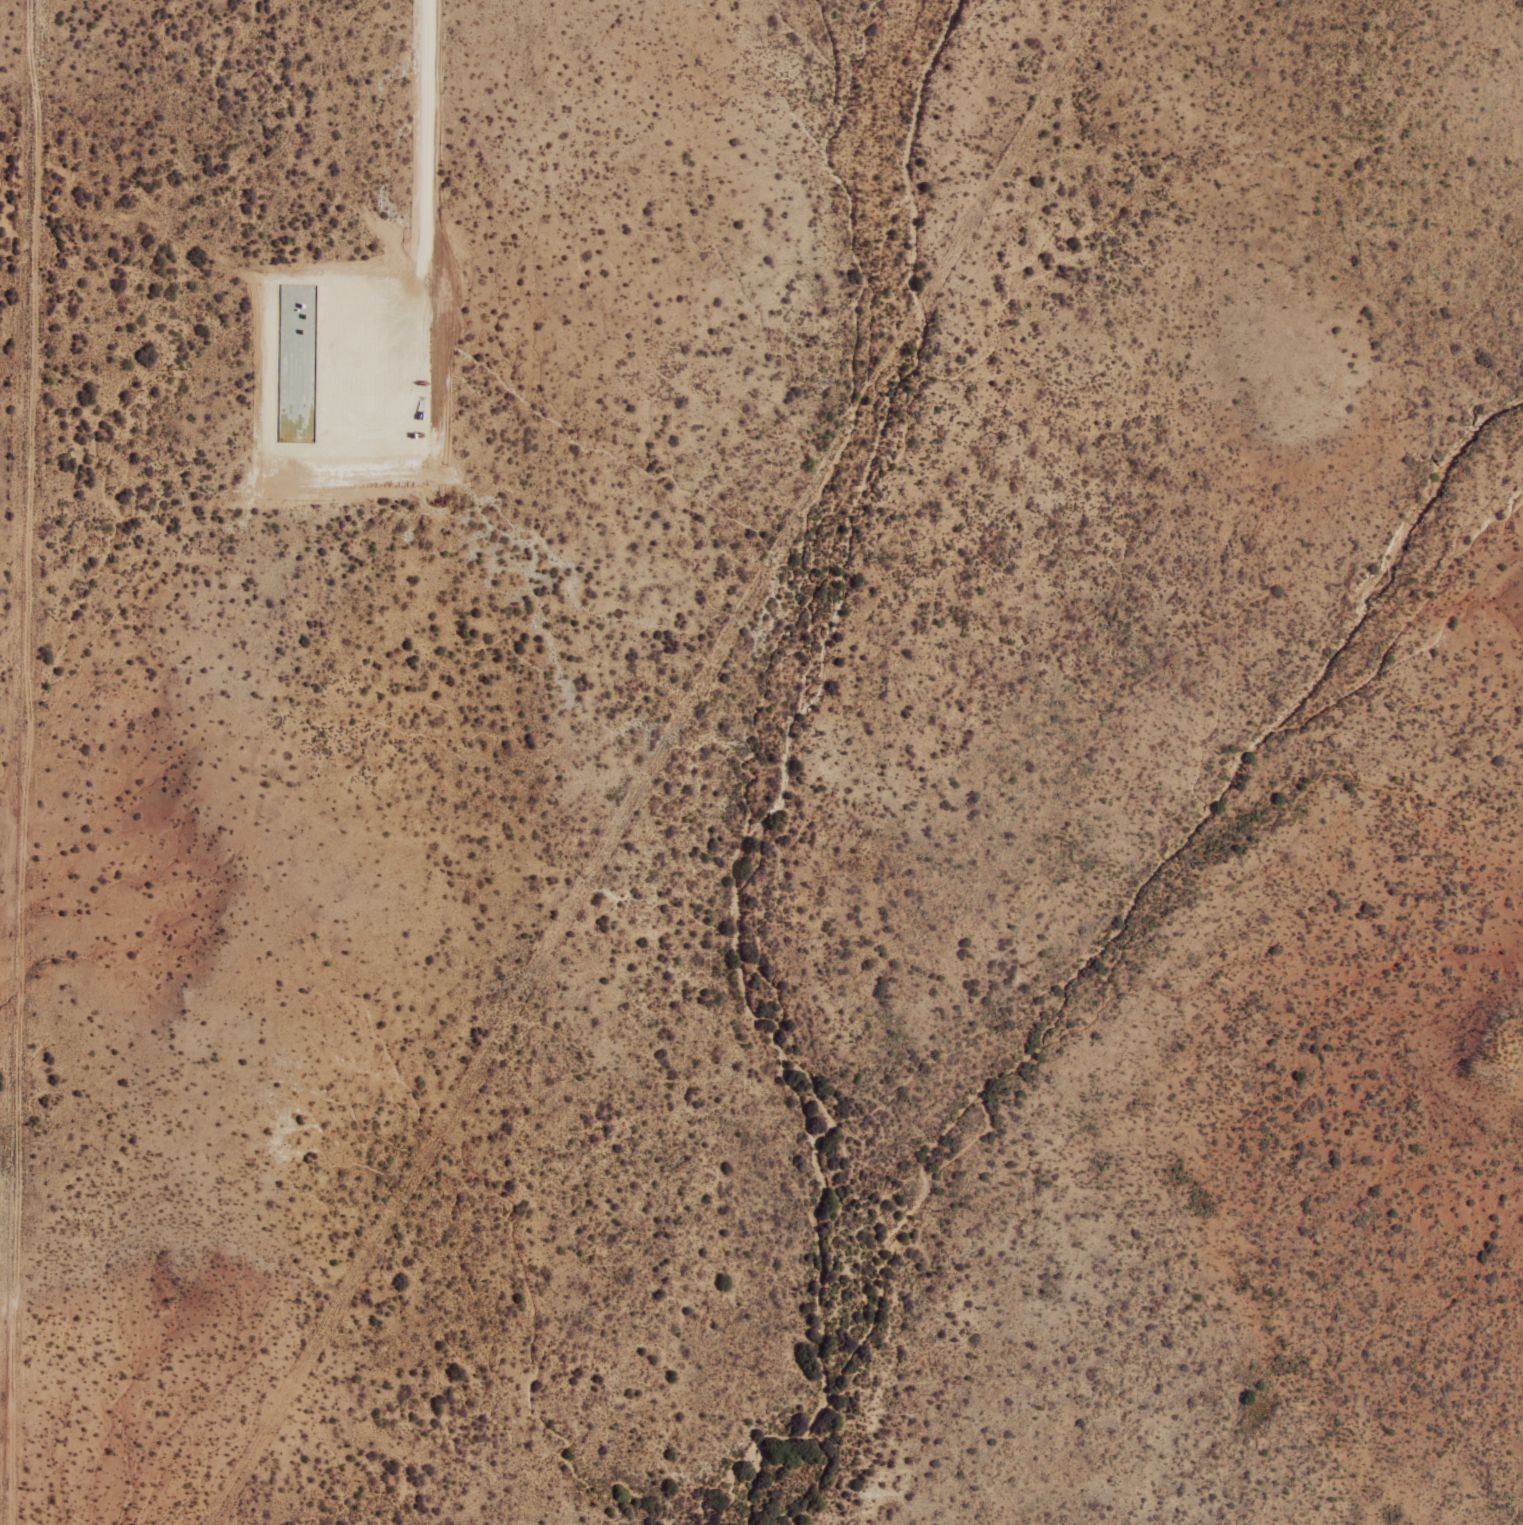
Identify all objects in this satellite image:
road: (426, 286)

